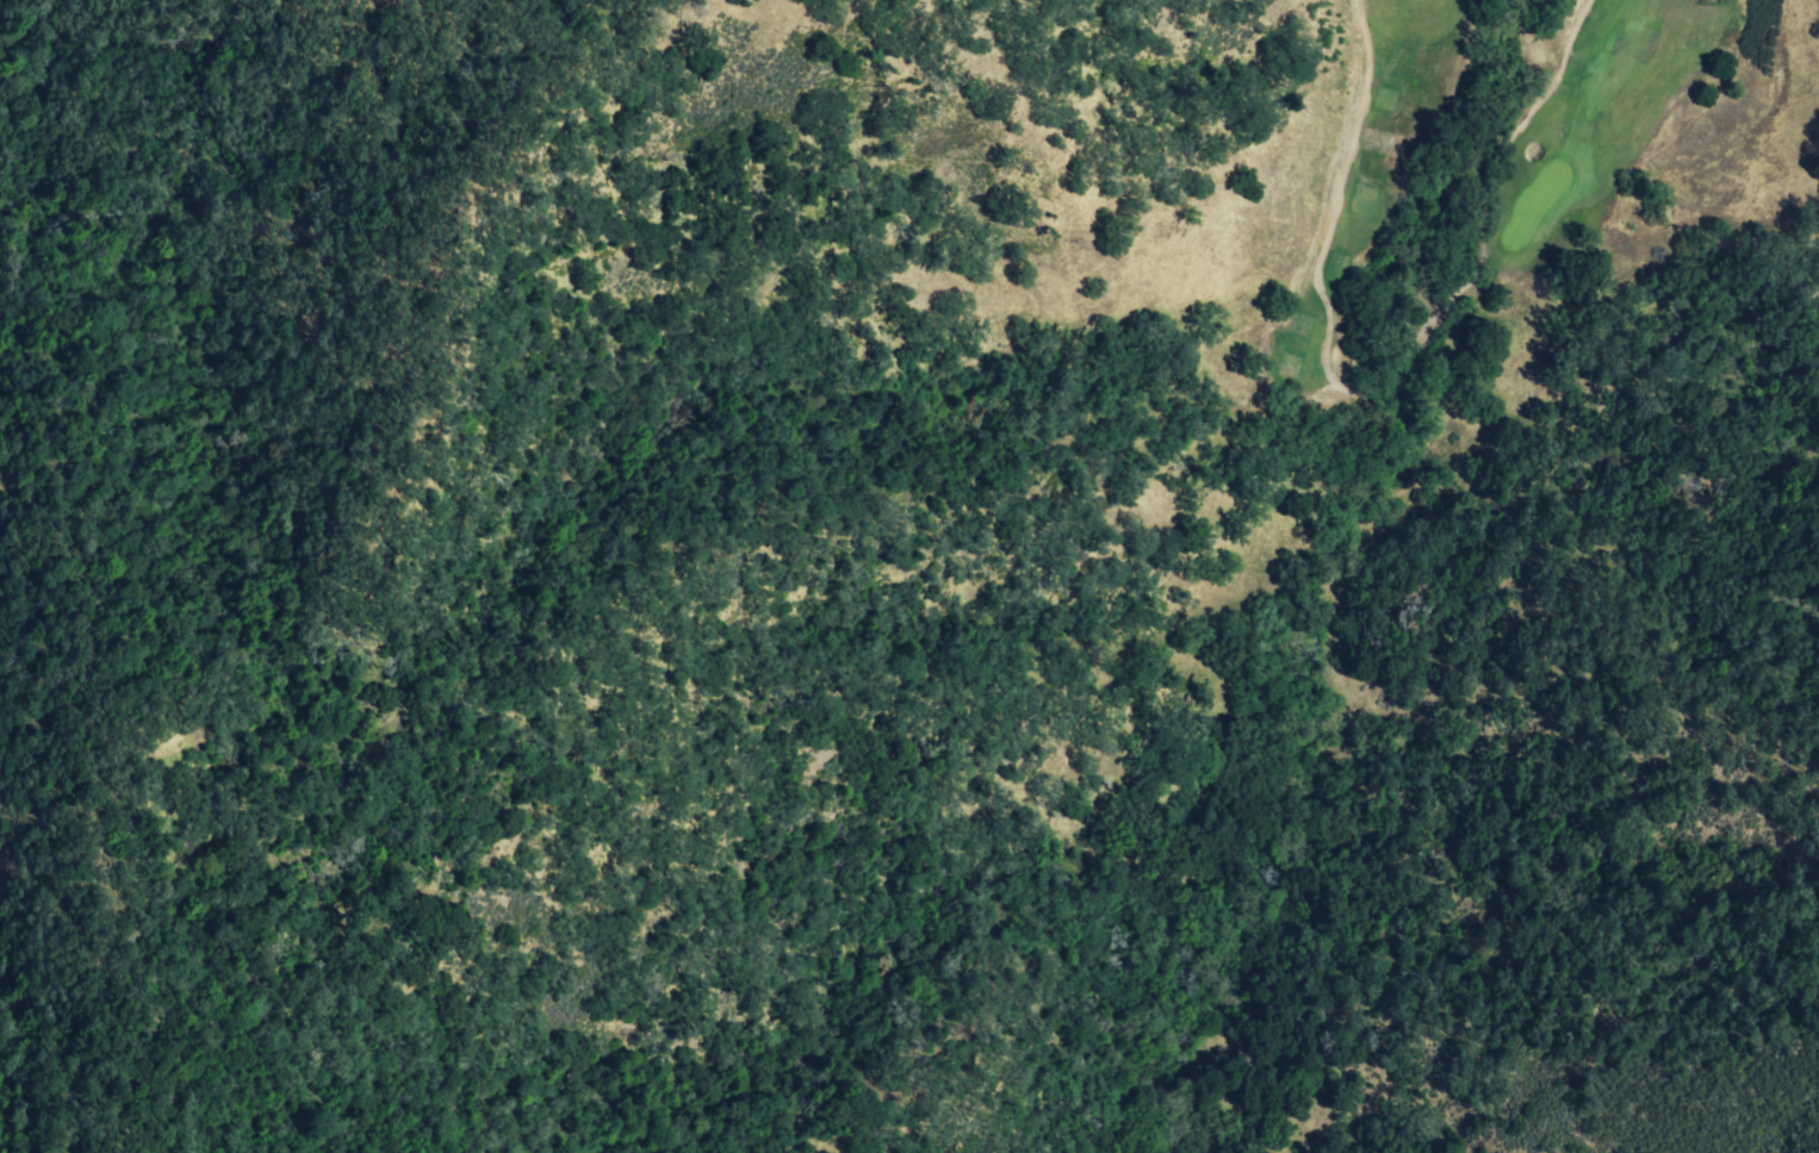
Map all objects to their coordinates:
park: (1489, 160)
road: (1373, 374)

